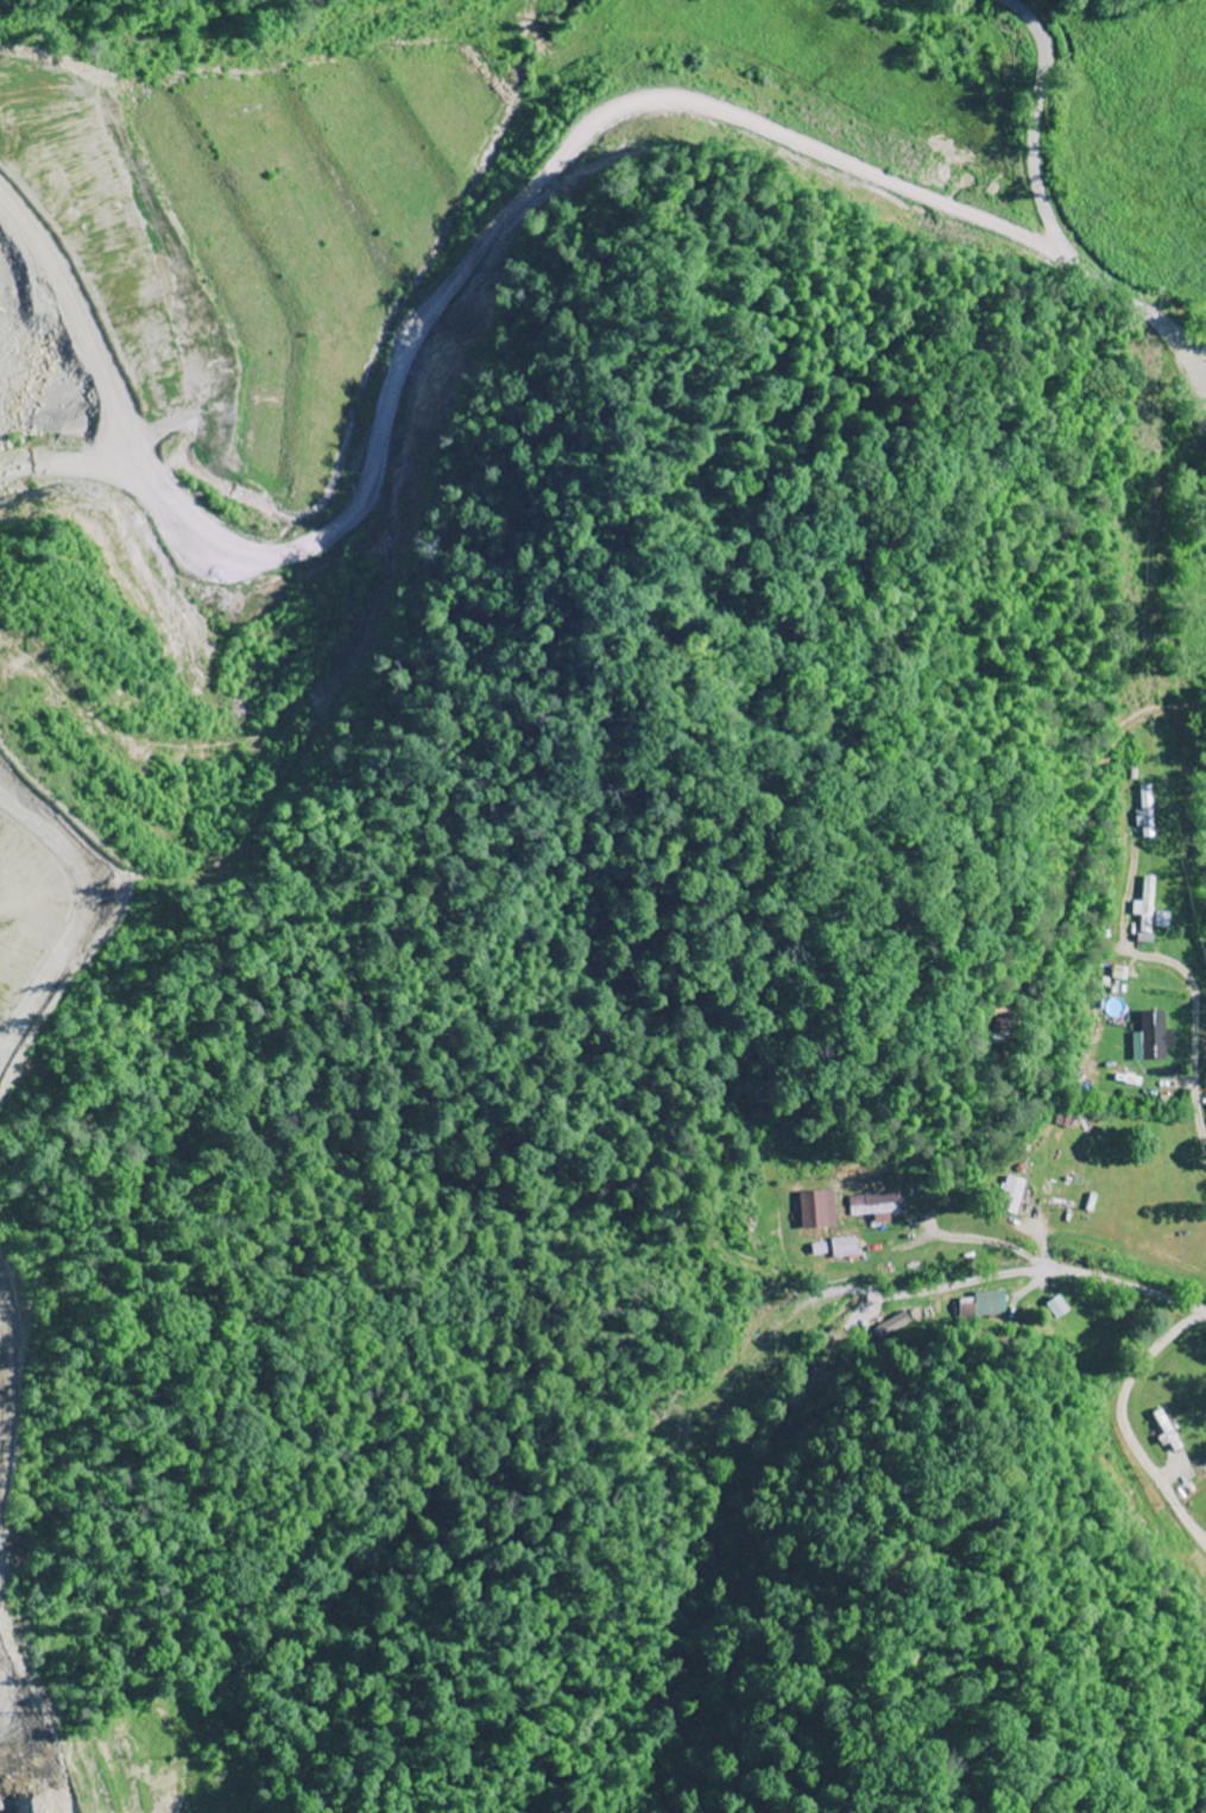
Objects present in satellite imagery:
road: (1046, 202)
building: (1145, 811)
building: (1148, 905)
building: (1155, 1037)
building: (1011, 1195)
building: (872, 1204)
building: (844, 1246)
road: (1157, 1302)
building: (984, 1305)
building: (892, 1326)
building: (798, 1401)
building: (1169, 1430)

